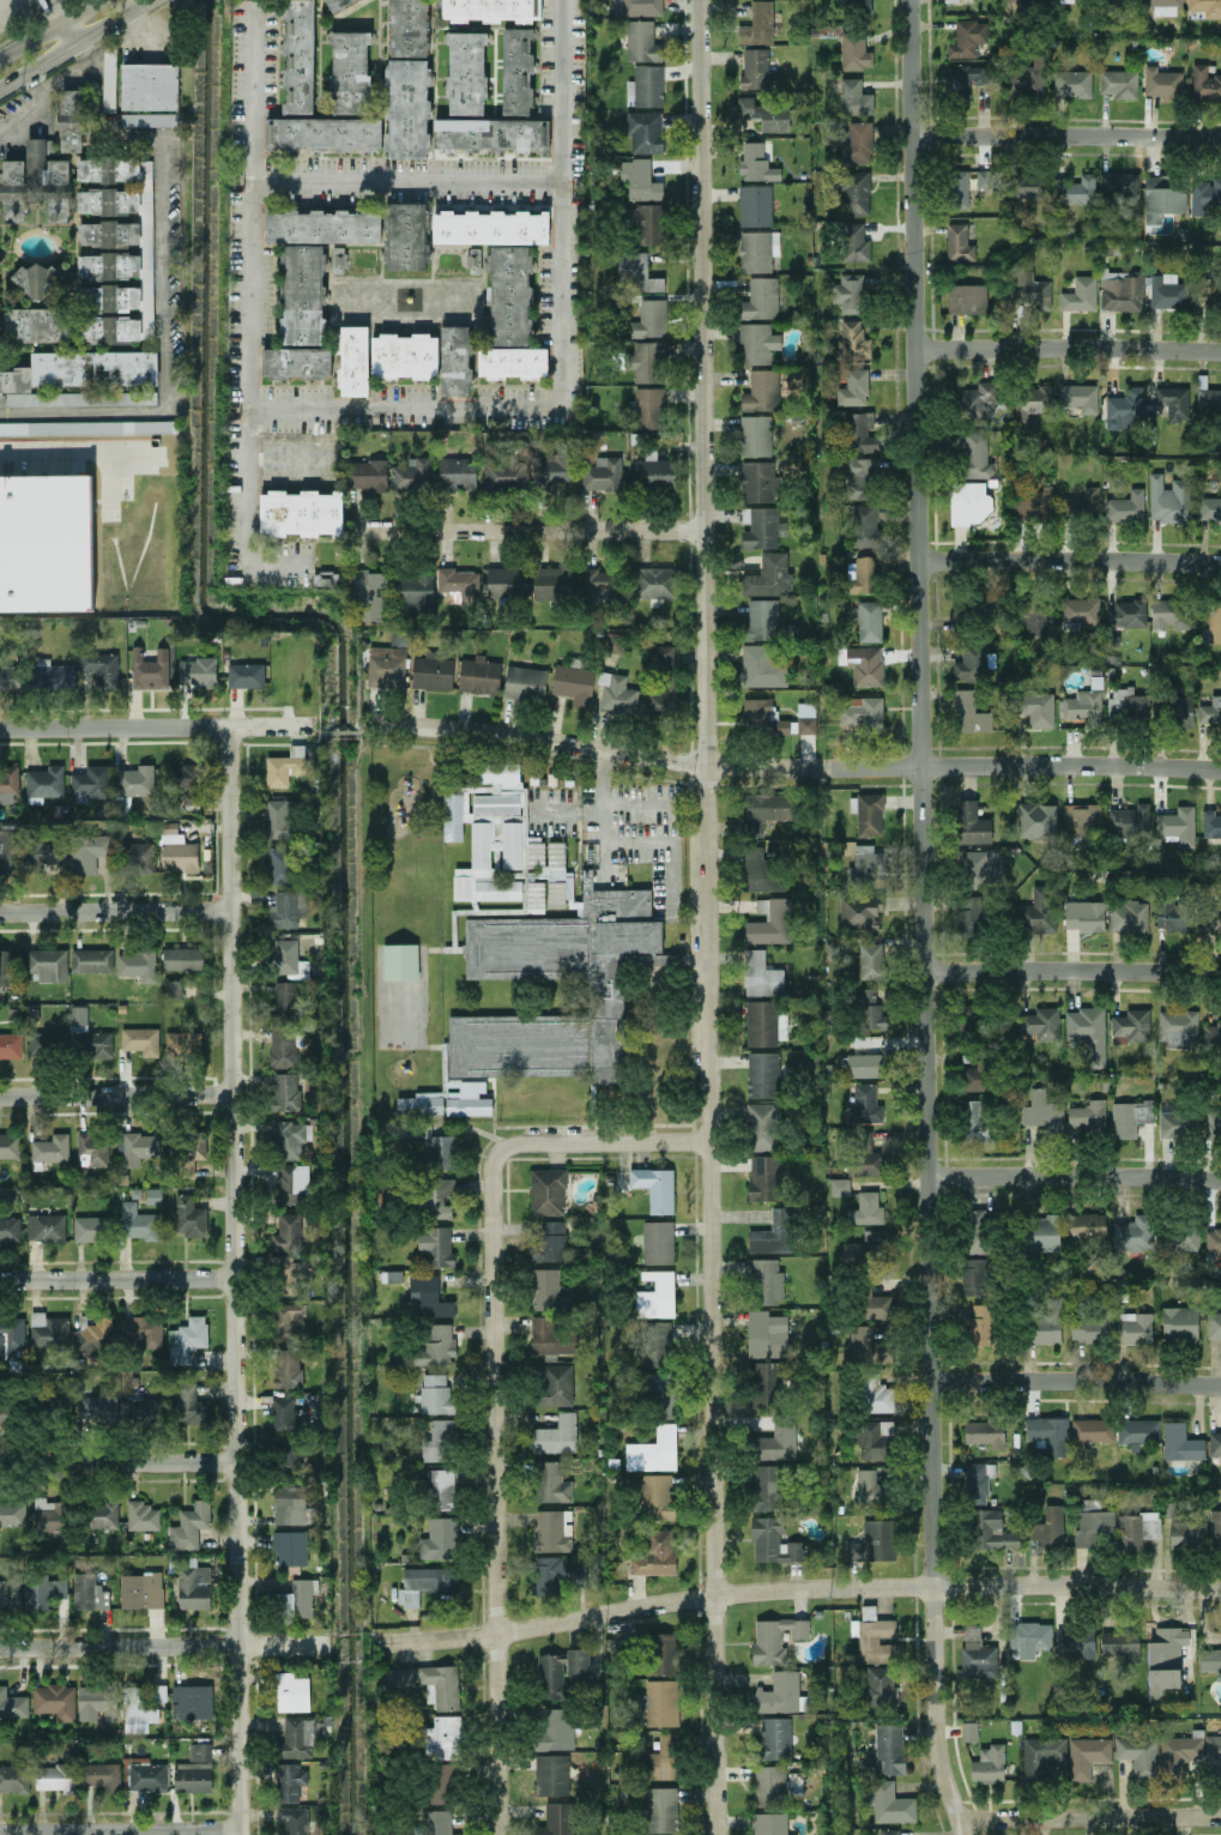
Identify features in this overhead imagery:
building: (950, 0)
building: (1011, 0)
building: (1064, 0)
road: (5, 2)
building: (337, 4)
building: (858, 6)
building: (642, 7)
road: (52, 10)
building: (490, 10)
building: (757, 24)
road: (46, 26)
road: (141, 26)
building: (407, 28)
road: (66, 31)
building: (967, 37)
building: (642, 41)
road: (73, 42)
building: (854, 50)
building: (298, 56)
building: (755, 67)
building: (516, 70)
building: (349, 71)
building: (466, 72)
building: (109, 77)
building: (1028, 77)
building: (963, 79)
building: (1162, 82)
building: (1072, 83)
building: (1119, 83)
building: (1204, 83)
building: (150, 84)
building: (647, 85)
road: (46, 92)
building: (854, 97)
building: (407, 108)
building: (764, 111)
building: (150, 119)
building: (71, 120)
building: (645, 131)
building: (324, 133)
building: (489, 134)
road: (1064, 135)
building: (857, 141)
building: (757, 162)
building: (49, 179)
building: (640, 179)
building: (12, 180)
road: (407, 181)
building: (987, 181)
building: (1027, 183)
building: (1119, 185)
building: (957, 188)
building: (1075, 189)
building: (856, 192)
building: (1204, 194)
building: (1162, 195)
building: (755, 205)
building: (645, 223)
building: (322, 225)
building: (490, 227)
building: (406, 235)
building: (854, 242)
building: (959, 242)
building: (757, 249)
building: (338, 259)
building: (103, 261)
road: (168, 272)
building: (639, 273)
building: (38, 279)
building: (1030, 289)
building: (1211, 290)
building: (1166, 291)
building: (848, 292)
building: (302, 294)
building: (1080, 294)
building: (509, 295)
building: (761, 298)
building: (967, 298)
building: (649, 319)
road: (247, 326)
building: (853, 339)
building: (757, 343)
road: (1066, 348)
building: (404, 355)
building: (353, 360)
building: (455, 360)
building: (646, 361)
building: (296, 362)
building: (512, 362)
road: (562, 362)
building: (81, 378)
building: (853, 388)
building: (762, 391)
building: (1080, 396)
building: (975, 399)
building: (1033, 400)
building: (1173, 402)
building: (1209, 402)
building: (647, 406)
building: (1125, 409)
building: (89, 427)
building: (859, 431)
building: (755, 435)
road: (72, 452)
building: (977, 455)
building: (558, 464)
building: (654, 470)
building: (368, 473)
building: (412, 473)
building: (457, 473)
building: (504, 473)
building: (602, 473)
road: (104, 477)
building: (860, 477)
building: (758, 481)
building: (1168, 499)
building: (969, 502)
building: (1080, 503)
building: (1035, 505)
building: (1126, 506)
building: (1209, 507)
building: (300, 508)
building: (864, 525)
building: (760, 527)
road: (527, 529)
building: (46, 542)
road: (1068, 559)
building: (862, 574)
building: (768, 575)
building: (597, 580)
building: (507, 581)
building: (554, 581)
building: (655, 581)
building: (458, 583)
building: (415, 590)
building: (370, 593)
building: (984, 608)
building: (1080, 611)
building: (1125, 612)
building: (1169, 612)
building: (1033, 615)
building: (762, 620)
building: (1213, 620)
building: (869, 621)
building: (863, 663)
building: (971, 663)
building: (386, 665)
building: (761, 666)
building: (101, 668)
building: (149, 668)
building: (197, 670)
building: (431, 671)
building: (52, 674)
building: (246, 674)
building: (478, 674)
building: (11, 677)
building: (671, 681)
building: (525, 682)
building: (574, 683)
building: (616, 693)
building: (1126, 704)
building: (1082, 705)
road: (152, 707)
building: (1035, 707)
building: (1175, 708)
building: (1210, 710)
building: (862, 712)
building: (969, 712)
building: (764, 717)
building: (806, 724)
road: (155, 725)
road: (340, 730)
road: (363, 730)
road: (167, 741)
road: (476, 749)
building: (284, 766)
road: (792, 766)
building: (495, 773)
building: (91, 780)
building: (134, 780)
building: (186, 780)
building: (7, 781)
building: (43, 781)
road: (639, 802)
building: (764, 810)
road: (566, 813)
building: (870, 814)
building: (452, 816)
building: (279, 817)
road: (603, 817)
building: (1083, 819)
building: (1036, 820)
building: (1129, 821)
building: (1211, 822)
building: (973, 823)
building: (1177, 825)
road: (672, 844)
building: (492, 846)
building: (176, 850)
building: (28, 851)
building: (86, 851)
building: (139, 856)
building: (549, 859)
building: (282, 863)
building: (865, 863)
building: (979, 868)
building: (761, 870)
road: (182, 891)
building: (286, 907)
road: (116, 910)
building: (860, 910)
building: (1038, 911)
building: (1174, 912)
building: (1084, 915)
building: (1128, 915)
building: (1211, 916)
road: (707, 917)
building: (972, 918)
road: (920, 919)
building: (770, 923)
building: (182, 958)
building: (288, 958)
building: (91, 960)
building: (400, 960)
building: (871, 960)
building: (46, 962)
building: (137, 962)
building: (7, 966)
road: (1071, 968)
building: (761, 974)
building: (174, 988)
building: (606, 995)
building: (284, 997)
building: (869, 1009)
building: (78, 1014)
building: (966, 1019)
building: (764, 1022)
building: (1042, 1022)
building: (1131, 1026)
building: (1178, 1027)
building: (1088, 1032)
building: (1211, 1034)
building: (140, 1039)
building: (91, 1043)
building: (181, 1043)
building: (10, 1044)
building: (283, 1045)
building: (864, 1064)
building: (763, 1074)
building: (973, 1076)
building: (285, 1091)
road: (116, 1094)
building: (470, 1099)
building: (421, 1104)
building: (864, 1104)
building: (1041, 1109)
building: (1132, 1112)
building: (1087, 1116)
building: (975, 1119)
building: (1175, 1123)
building: (1213, 1123)
building: (762, 1125)
building: (288, 1139)
road: (602, 1141)
building: (10, 1145)
building: (137, 1147)
building: (50, 1148)
building: (92, 1149)
building: (189, 1153)
building: (437, 1153)
building: (866, 1158)
road: (1072, 1176)
building: (764, 1177)
building: (290, 1183)
building: (840, 1185)
building: (655, 1187)
building: (548, 1191)
building: (437, 1197)
building: (865, 1209)
building: (189, 1215)
building: (137, 1221)
building: (46, 1227)
building: (10, 1229)
building: (92, 1229)
building: (1088, 1229)
building: (977, 1230)
building: (774, 1232)
building: (286, 1233)
building: (1041, 1233)
building: (1135, 1233)
building: (1181, 1238)
building: (658, 1241)
building: (1213, 1241)
building: (550, 1242)
building: (435, 1245)
building: (864, 1249)
building: (286, 1275)
building: (974, 1275)
road: (117, 1279)
road: (236, 1280)
building: (764, 1280)
building: (548, 1288)
building: (655, 1294)
building: (428, 1297)
building: (875, 1304)
building: (289, 1321)
building: (1046, 1321)
building: (981, 1323)
building: (1214, 1323)
building: (1180, 1324)
building: (1090, 1327)
building: (1134, 1327)
building: (48, 1330)
building: (140, 1330)
building: (766, 1334)
building: (12, 1335)
building: (95, 1336)
building: (550, 1336)
building: (186, 1339)
building: (655, 1342)
building: (435, 1344)
building: (866, 1346)
building: (288, 1368)
road: (1074, 1378)
building: (764, 1383)
building: (555, 1384)
building: (436, 1394)
building: (663, 1394)
building: (875, 1395)
building: (191, 1404)
building: (53, 1408)
building: (99, 1408)
building: (145, 1411)
building: (6, 1413)
building: (285, 1416)
building: (1093, 1430)
building: (1137, 1430)
building: (985, 1432)
building: (1050, 1433)
building: (556, 1435)
building: (441, 1439)
building: (875, 1439)
building: (776, 1441)
building: (1180, 1442)
building: (1215, 1443)
building: (653, 1450)
building: (289, 1455)
road: (119, 1463)
building: (551, 1481)
building: (977, 1481)
building: (767, 1486)
building: (440, 1489)
building: (870, 1489)
road: (495, 1493)
building: (657, 1496)
building: (289, 1504)
building: (12, 1513)
building: (48, 1514)
building: (103, 1514)
building: (141, 1515)
building: (189, 1526)
building: (1048, 1526)
building: (1095, 1527)
building: (1137, 1528)
building: (554, 1529)
building: (992, 1529)
building: (1215, 1529)
building: (1185, 1532)
building: (440, 1538)
building: (874, 1540)
building: (773, 1541)
building: (291, 1549)
building: (655, 1553)
building: (579, 1571)
building: (548, 1575)
building: (425, 1582)
building: (194, 1587)
building: (11, 1589)
building: (42, 1589)
building: (141, 1589)
road: (796, 1589)
building: (89, 1592)
building: (298, 1599)
building: (1029, 1637)
building: (775, 1638)
building: (876, 1641)
building: (1076, 1641)
road: (163, 1643)
building: (1120, 1643)
building: (661, 1653)
building: (977, 1654)
building: (1165, 1659)
building: (1209, 1659)
building: (579, 1661)
building: (550, 1676)
building: (429, 1683)
building: (880, 1685)
building: (292, 1691)
building: (780, 1692)
building: (54, 1700)
building: (192, 1701)
building: (97, 1702)
building: (12, 1704)
building: (141, 1704)
building: (555, 1727)
building: (969, 1731)
building: (297, 1737)
building: (443, 1737)
building: (773, 1739)
building: (889, 1748)
building: (1179, 1752)
building: (1138, 1753)
building: (1041, 1755)
building: (1087, 1755)
building: (1213, 1755)
building: (660, 1758)
building: (989, 1763)
building: (194, 1771)
building: (146, 1774)
building: (551, 1774)
building: (102, 1775)
building: (55, 1776)
building: (14, 1777)
building: (290, 1781)
building: (441, 1782)
building: (769, 1785)
building: (890, 1804)
building: (660, 1809)
road: (1088, 1816)
building: (294, 1819)
building: (556, 1819)
building: (440, 1822)
building: (769, 1823)
road: (120, 1830)
building: (889, 1831)

